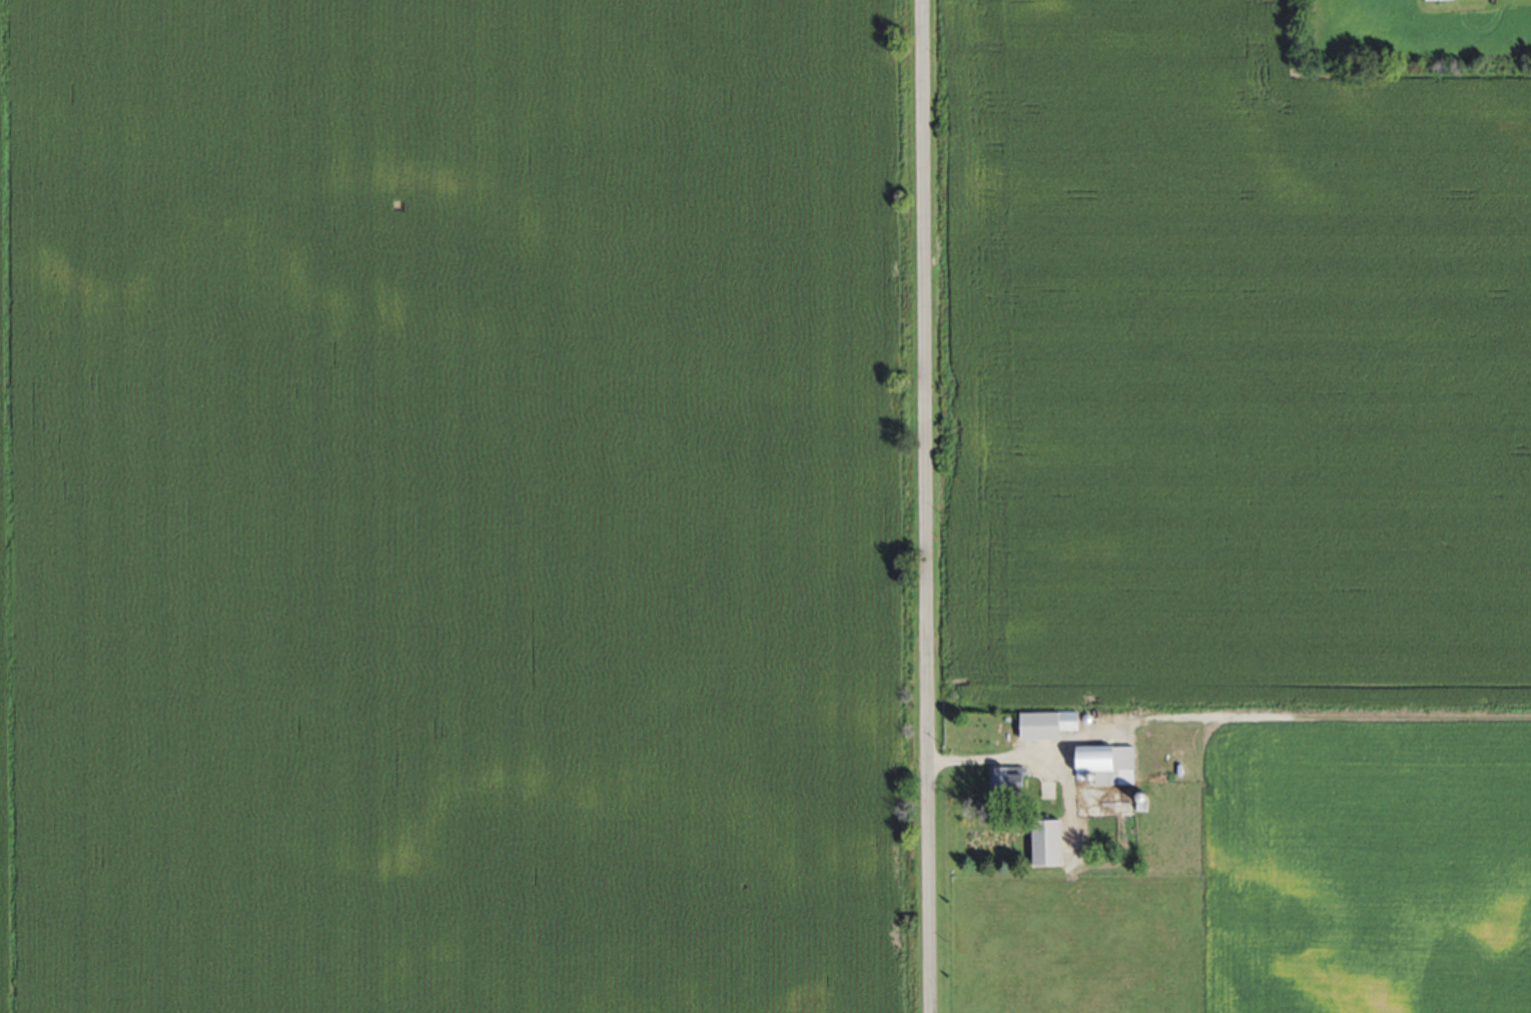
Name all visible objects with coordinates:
road: (924, 506)
building: (1053, 726)
road: (1038, 748)
building: (1109, 765)
building: (1013, 782)
building: (1053, 843)

